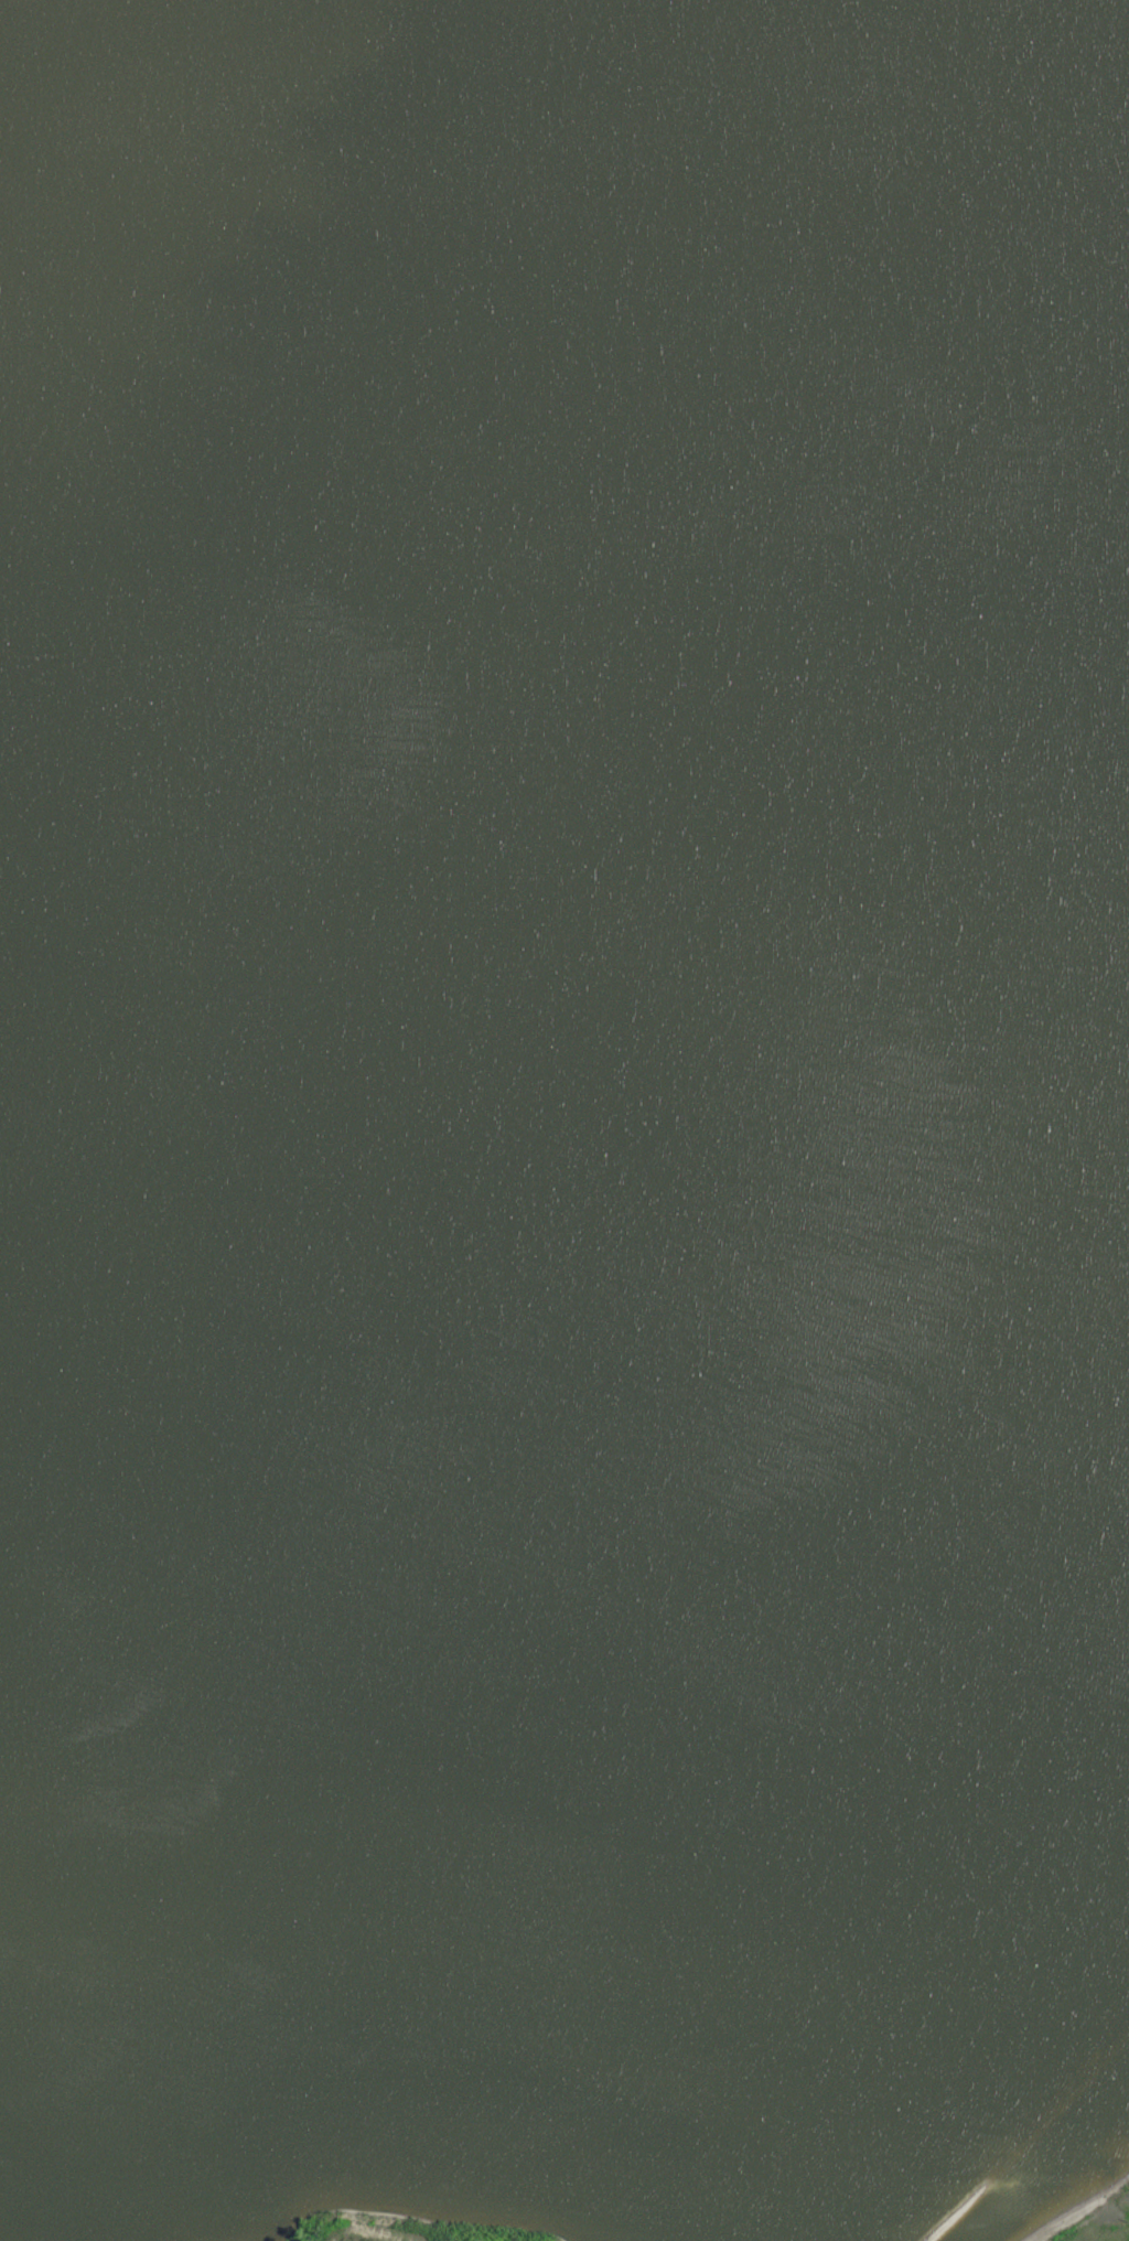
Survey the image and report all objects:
river: (959, 87)
road: (373, 2229)
road: (701, 2232)
road: (388, 2237)

